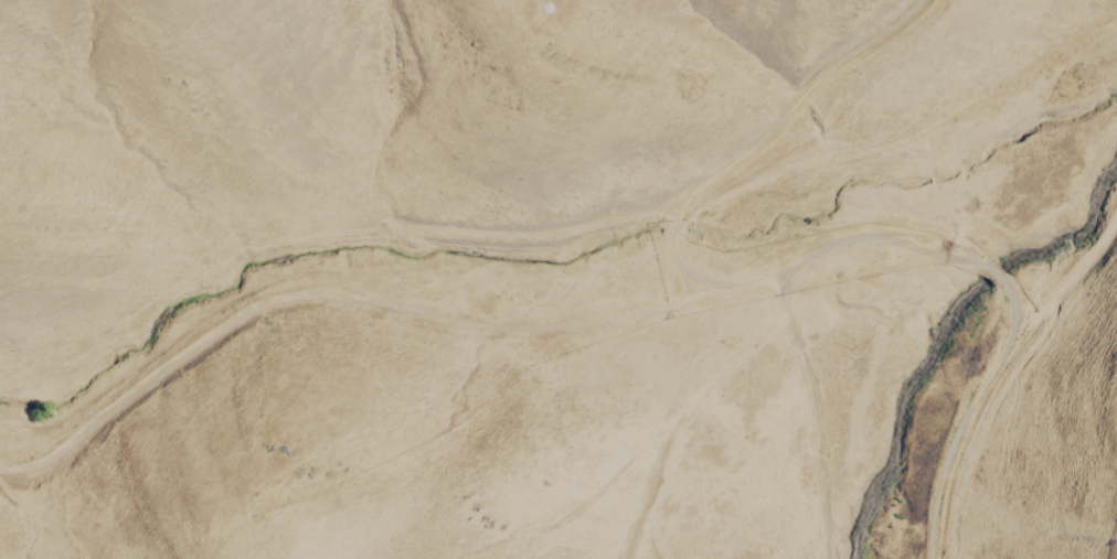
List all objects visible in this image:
road: (799, 259)

